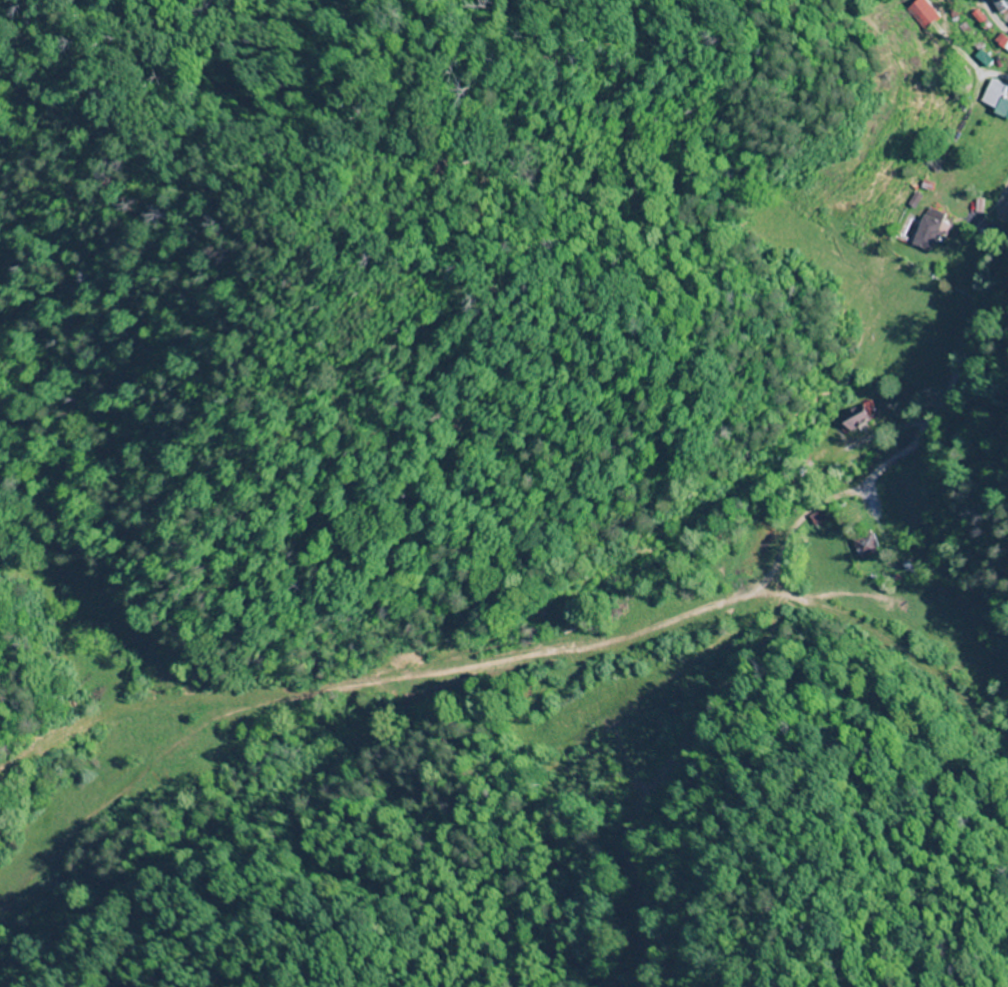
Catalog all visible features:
building: (1002, 5)
building: (924, 14)
building: (1002, 42)
building: (999, 95)
building: (935, 232)
road: (949, 375)
building: (858, 419)
building: (867, 545)

